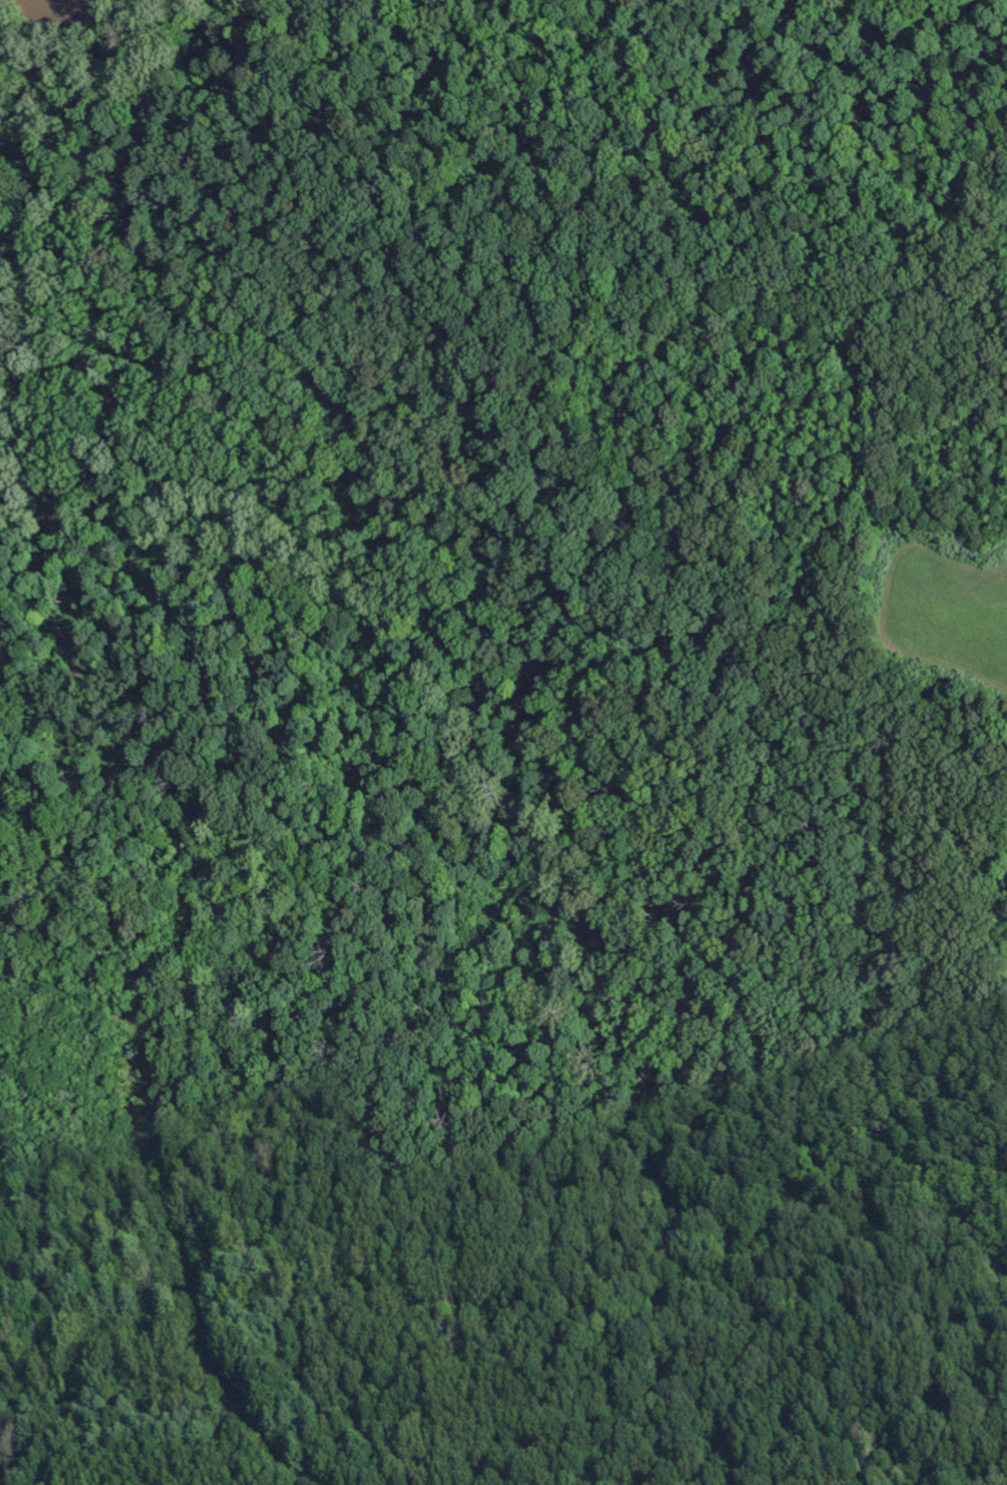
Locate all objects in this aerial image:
river: (0, 0)
road: (204, 1324)

